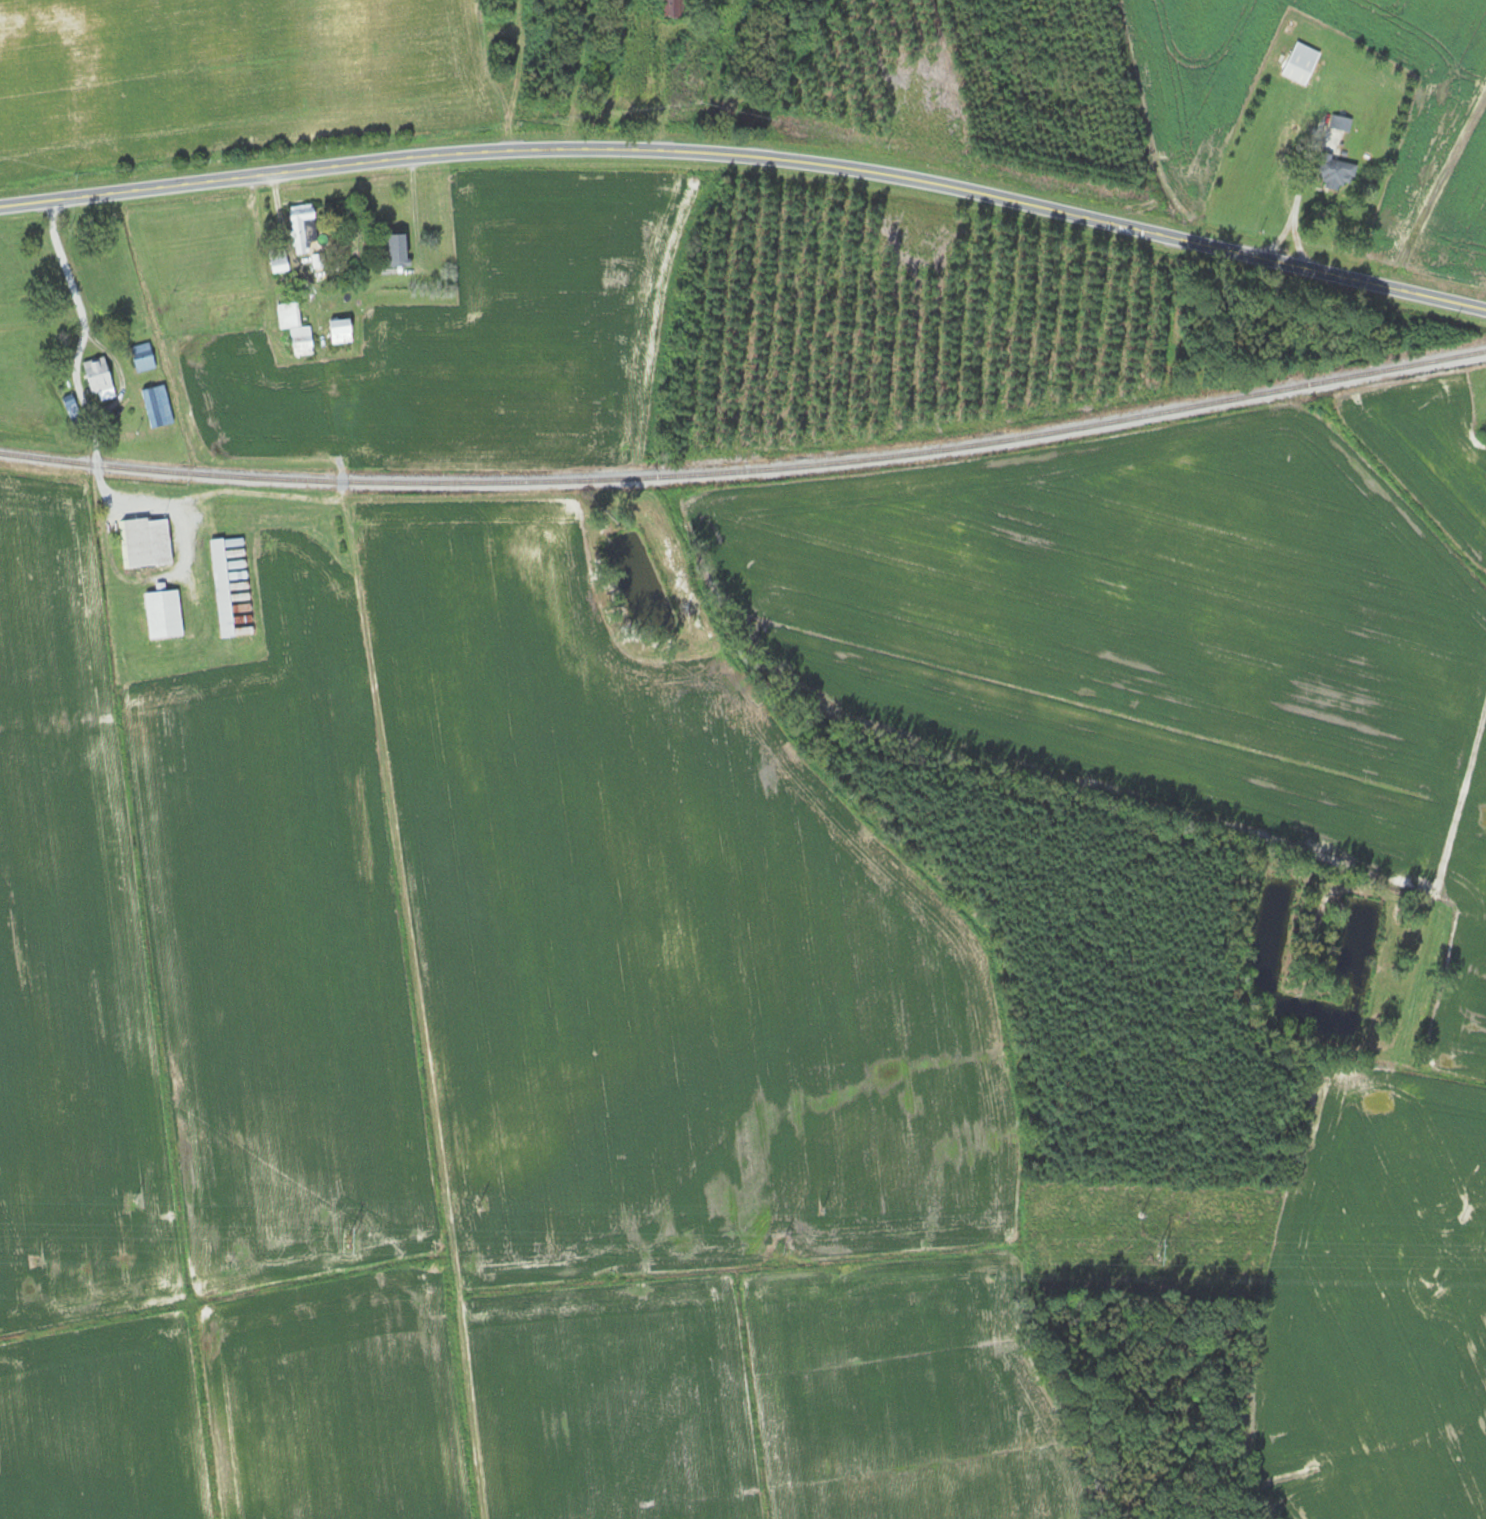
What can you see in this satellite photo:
building: (671, 9)
building: (1299, 63)
building: (1338, 123)
road: (749, 158)
building: (1333, 171)
building: (300, 226)
building: (395, 249)
building: (276, 258)
building: (316, 260)
building: (233, 296)
building: (293, 328)
building: (338, 330)
building: (141, 356)
building: (97, 377)
building: (337, 387)
building: (155, 405)
railway: (747, 470)
building: (145, 541)
building: (219, 586)
building: (161, 613)
building: (345, 689)
power tower: (344, 1239)
power tower: (780, 1244)
power tower: (1154, 1252)

